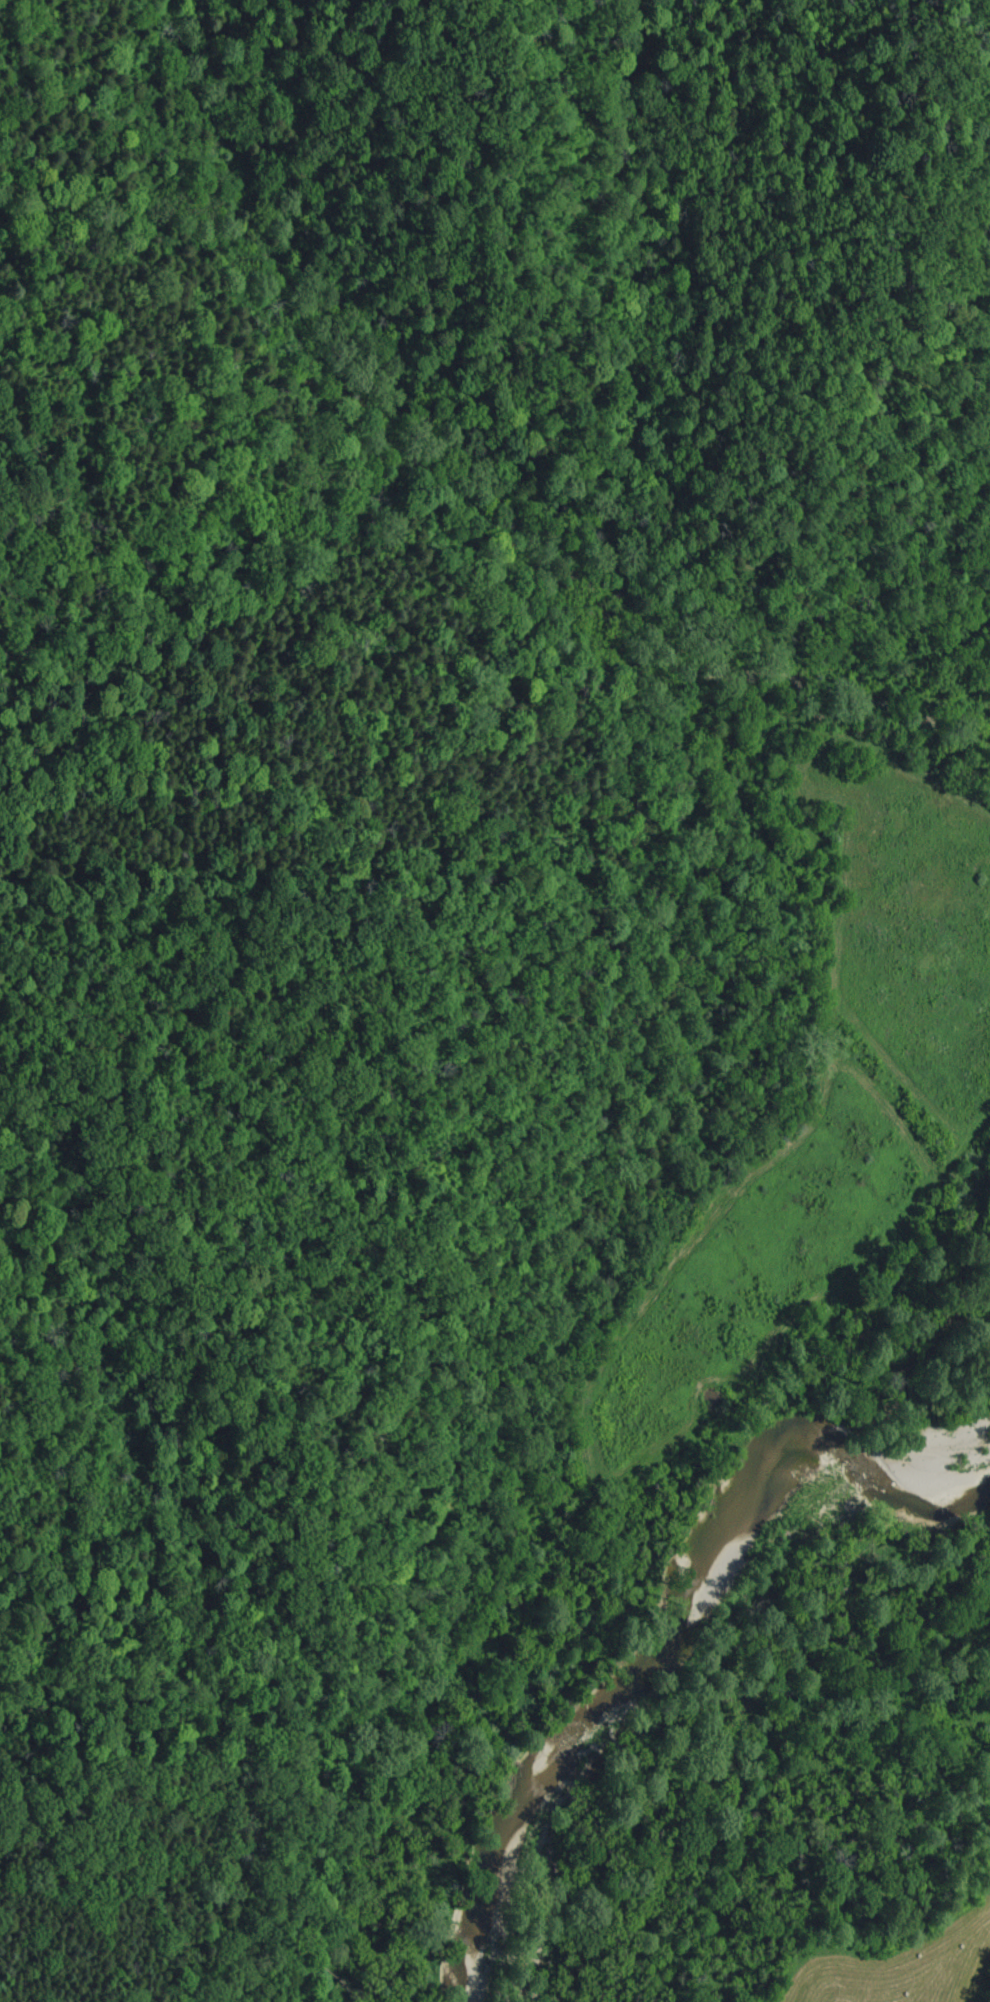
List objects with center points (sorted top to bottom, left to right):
crop: (828, 1097)
river: (672, 1648)

